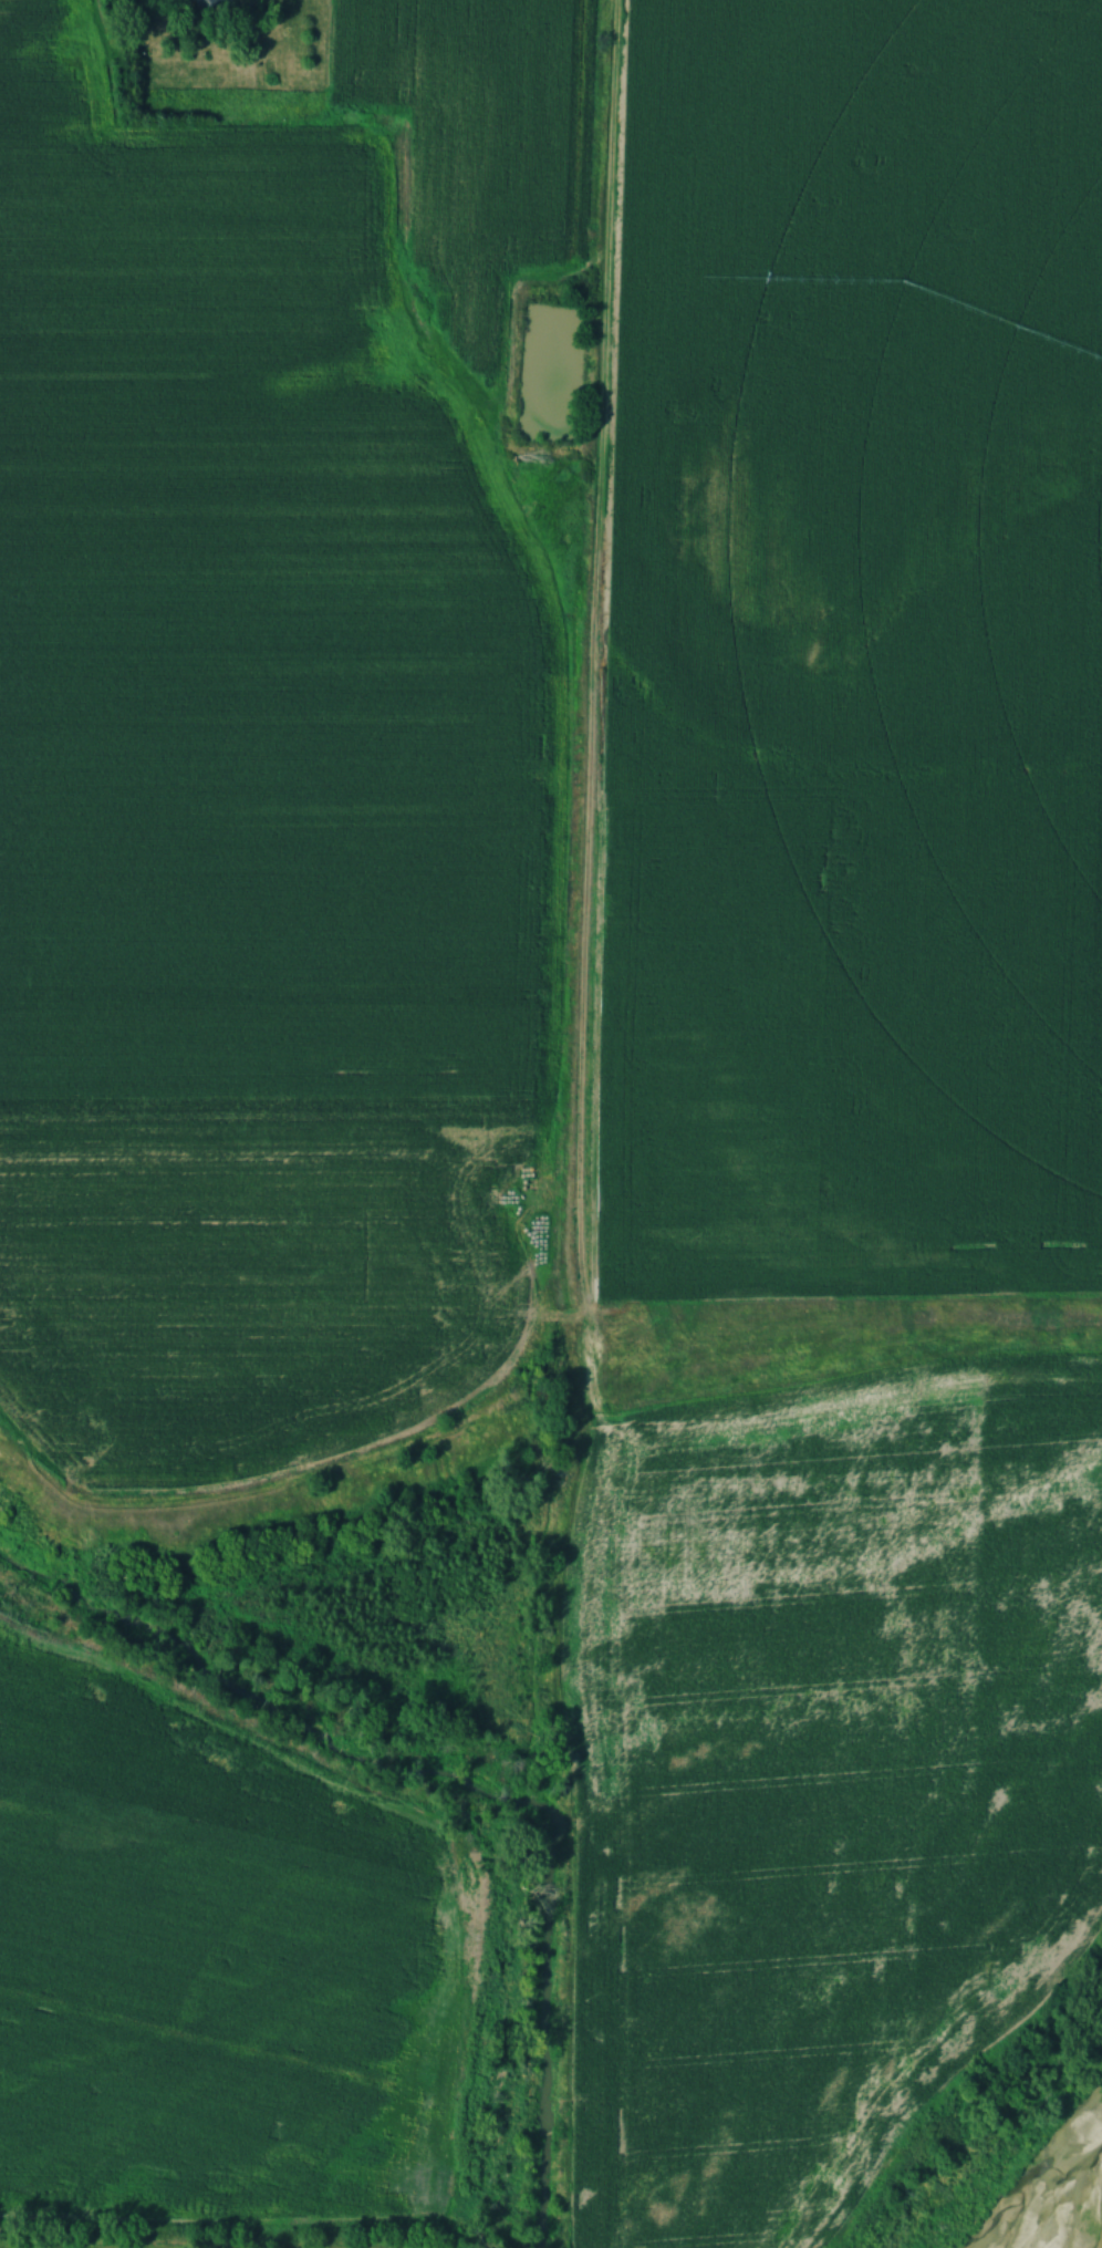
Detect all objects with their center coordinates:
building: (204, 3)
river: (462, 1785)

